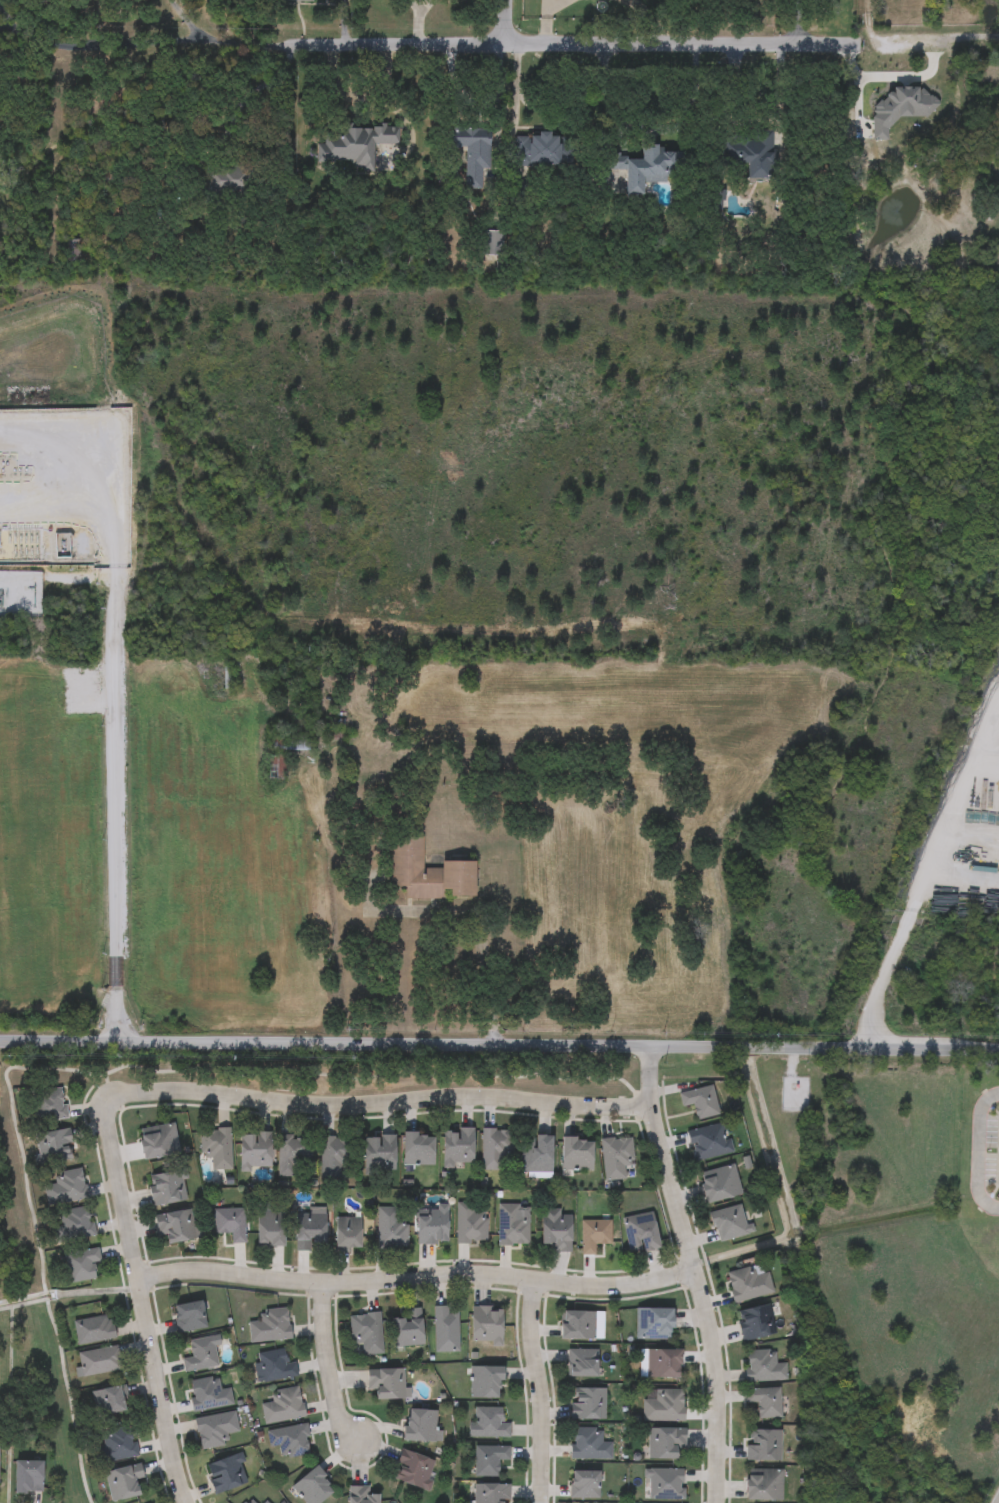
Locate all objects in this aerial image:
building: (297, 0)
road: (346, 18)
road: (187, 20)
road: (505, 21)
road: (7, 29)
road: (362, 36)
road: (932, 38)
road: (863, 39)
road: (682, 40)
road: (104, 47)
road: (912, 77)
road: (336, 84)
road: (857, 86)
road: (514, 88)
road: (246, 94)
road: (390, 105)
road: (749, 122)
road: (647, 126)
building: (357, 144)
building: (539, 151)
building: (474, 153)
building: (750, 153)
building: (647, 168)
building: (493, 244)
building: (72, 251)
road: (104, 519)
building: (289, 746)
building: (276, 767)
road: (115, 814)
building: (430, 872)
road: (904, 929)
road: (478, 932)
road: (499, 1043)
building: (700, 1101)
road: (375, 1104)
building: (47, 1105)
building: (159, 1141)
building: (710, 1142)
building: (55, 1146)
building: (216, 1147)
building: (459, 1147)
building: (419, 1149)
building: (496, 1150)
building: (256, 1151)
road: (979, 1151)
building: (380, 1152)
building: (538, 1154)
building: (578, 1154)
building: (293, 1156)
building: (335, 1156)
building: (616, 1157)
building: (720, 1183)
building: (168, 1187)
building: (66, 1188)
building: (231, 1223)
building: (729, 1223)
building: (73, 1225)
building: (470, 1225)
building: (514, 1225)
building: (178, 1226)
building: (270, 1226)
building: (310, 1226)
building: (433, 1226)
building: (390, 1228)
building: (557, 1230)
building: (642, 1233)
building: (348, 1234)
building: (595, 1234)
building: (81, 1264)
road: (696, 1273)
road: (417, 1275)
building: (749, 1282)
road: (142, 1300)
building: (190, 1316)
building: (758, 1322)
building: (655, 1323)
building: (487, 1325)
building: (270, 1326)
building: (582, 1326)
building: (408, 1329)
building: (94, 1330)
building: (446, 1330)
building: (366, 1332)
building: (201, 1355)
building: (98, 1362)
road: (328, 1362)
building: (582, 1363)
building: (661, 1364)
building: (274, 1366)
building: (764, 1367)
building: (486, 1382)
building: (389, 1383)
road: (538, 1391)
building: (209, 1395)
building: (109, 1401)
building: (765, 1402)
building: (588, 1404)
building: (284, 1406)
building: (663, 1406)
building: (489, 1423)
building: (422, 1426)
building: (215, 1429)
building: (290, 1440)
building: (667, 1444)
building: (119, 1445)
building: (590, 1445)
building: (763, 1446)
building: (489, 1460)
building: (415, 1469)
building: (227, 1474)
building: (29, 1477)
building: (124, 1482)
building: (665, 1484)
building: (585, 1485)
building: (765, 1485)
building: (314, 1487)
building: (491, 1494)
building: (362, 1495)
building: (249, 1501)
building: (266, 1502)

